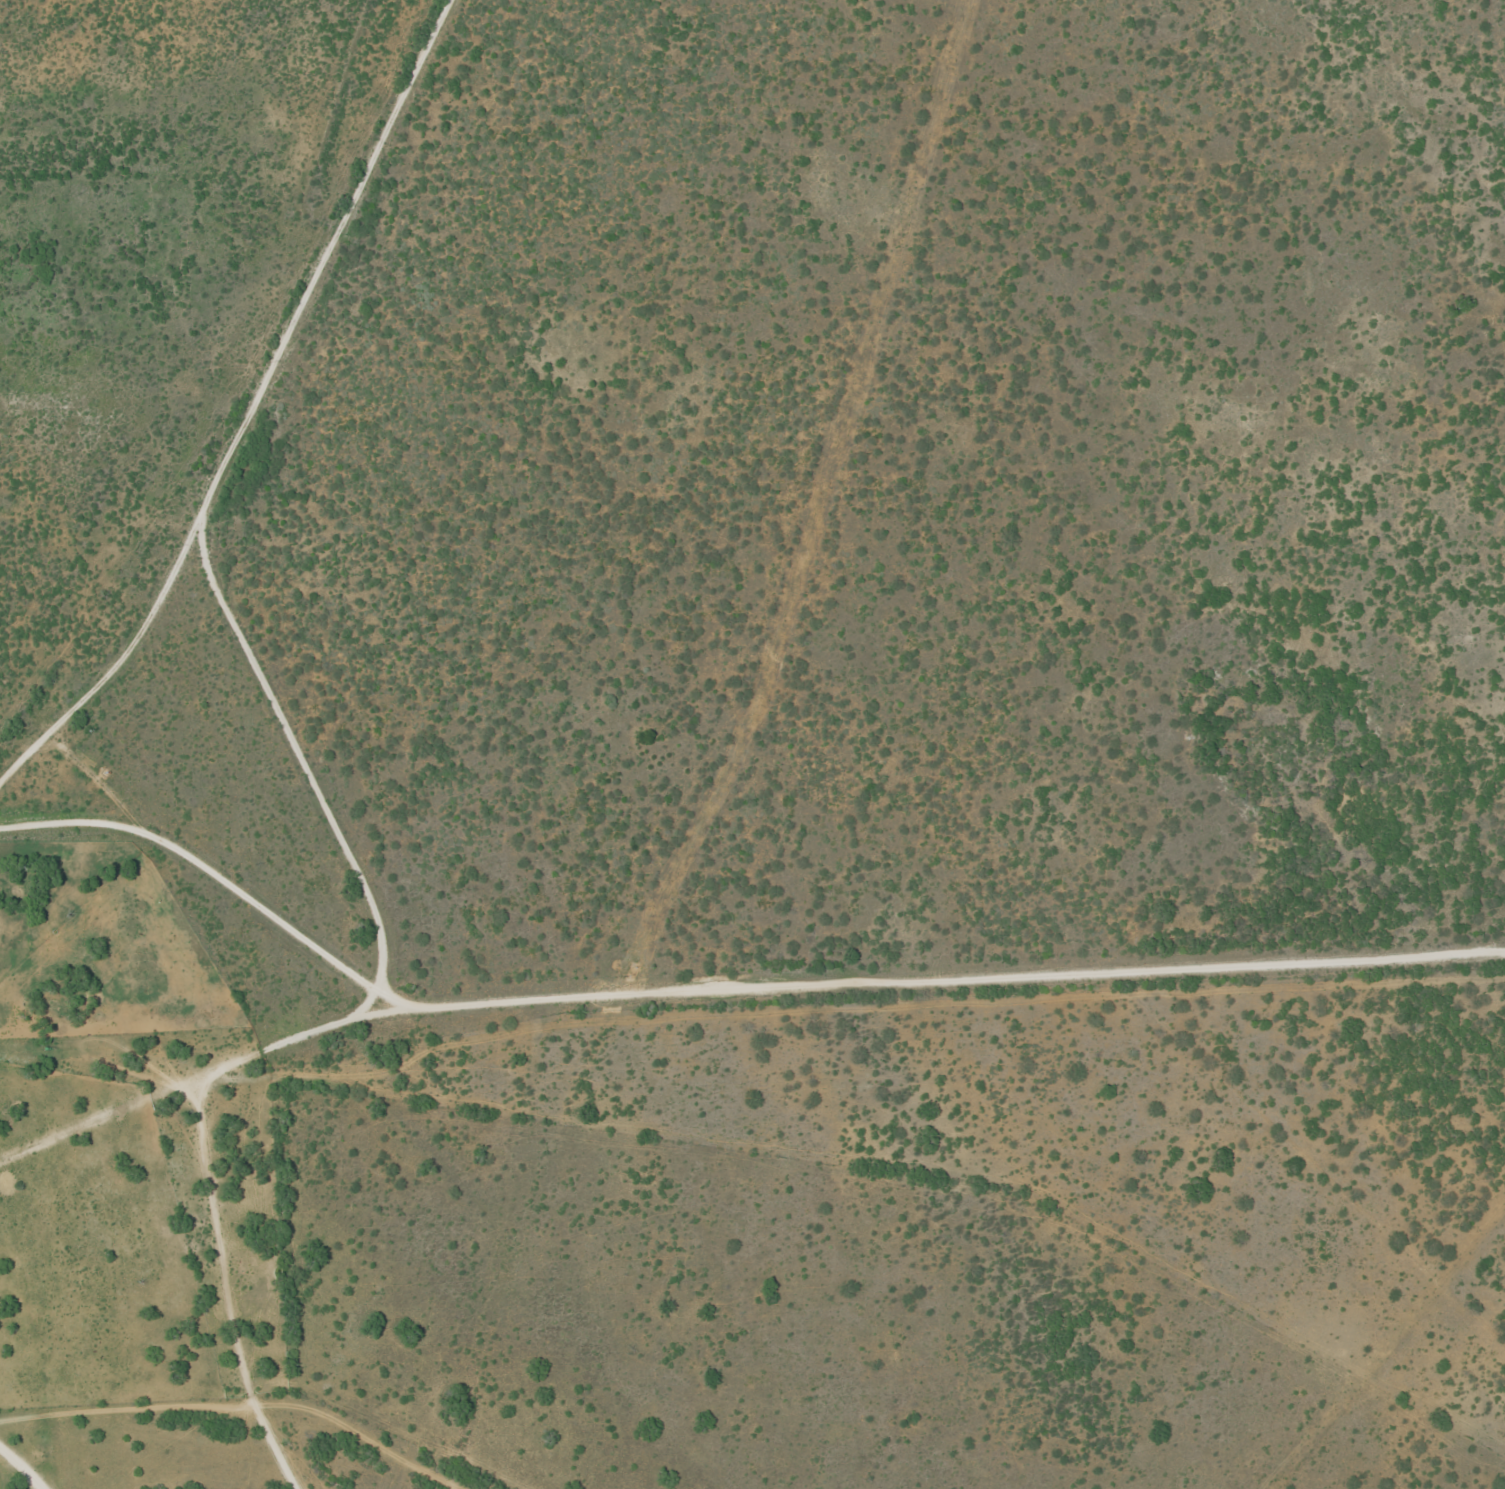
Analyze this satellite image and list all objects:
road: (191, 881)
road: (392, 1006)
road: (189, 1081)
road: (485, 1252)
road: (1, 1481)

